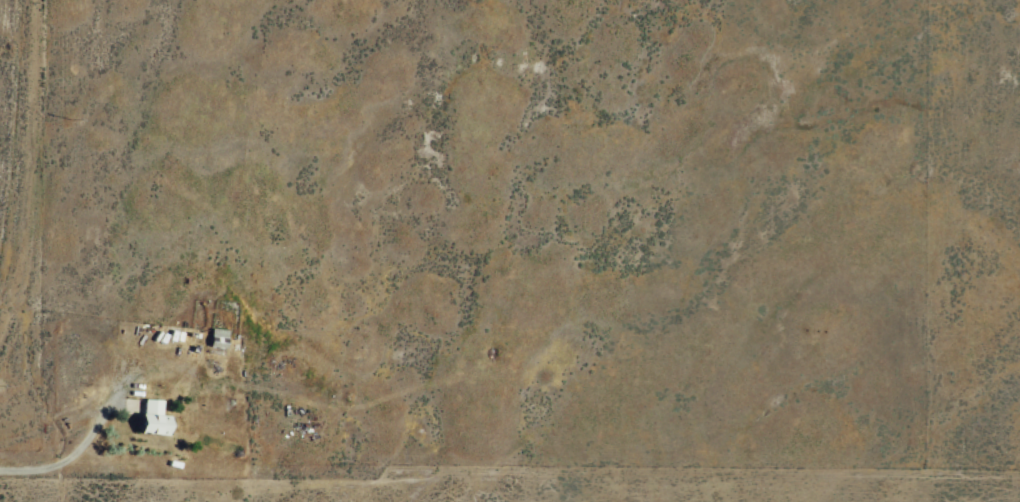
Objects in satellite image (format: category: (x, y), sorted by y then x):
road: (24, 151)
crop: (971, 238)
building: (153, 417)

